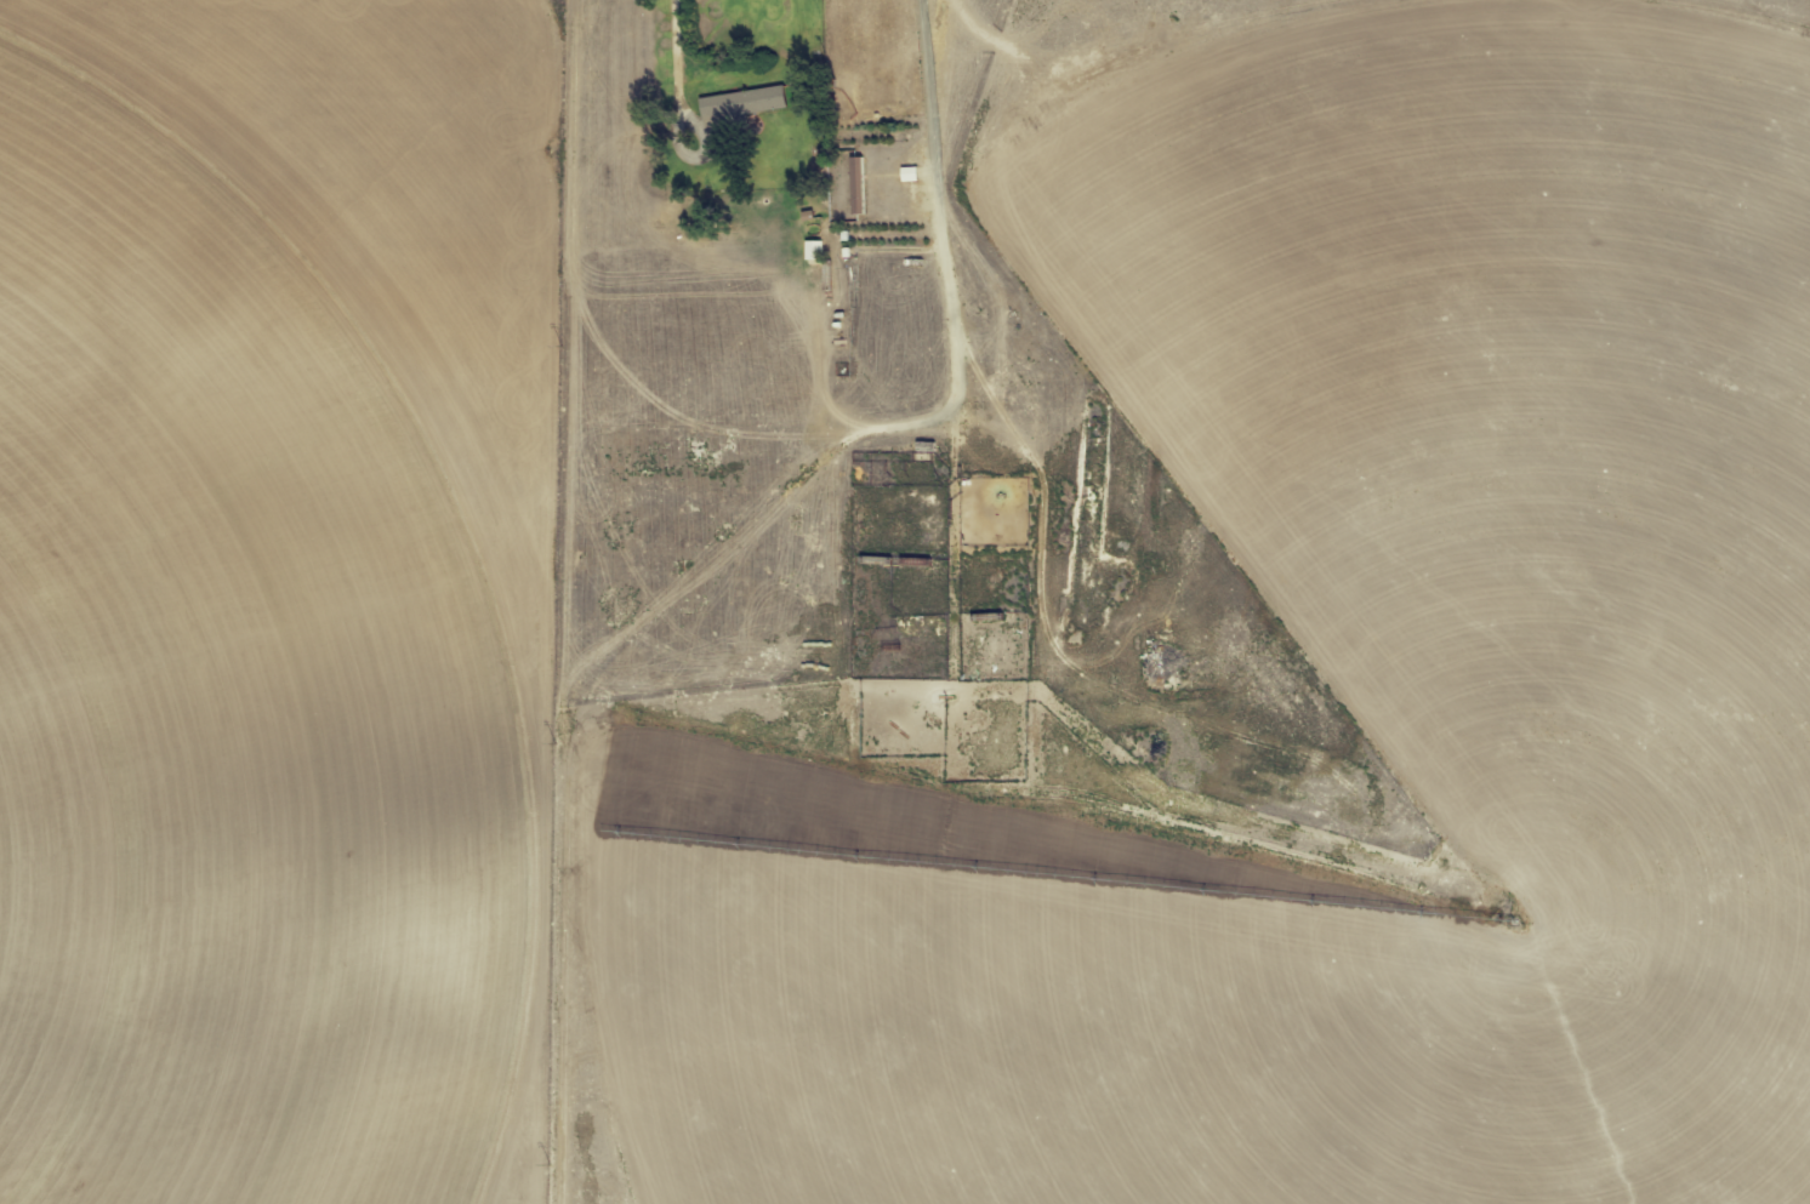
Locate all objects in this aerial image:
road: (675, 47)
building: (742, 102)
road: (1007, 170)
building: (909, 175)
building: (856, 186)
building: (814, 250)
road: (564, 601)

